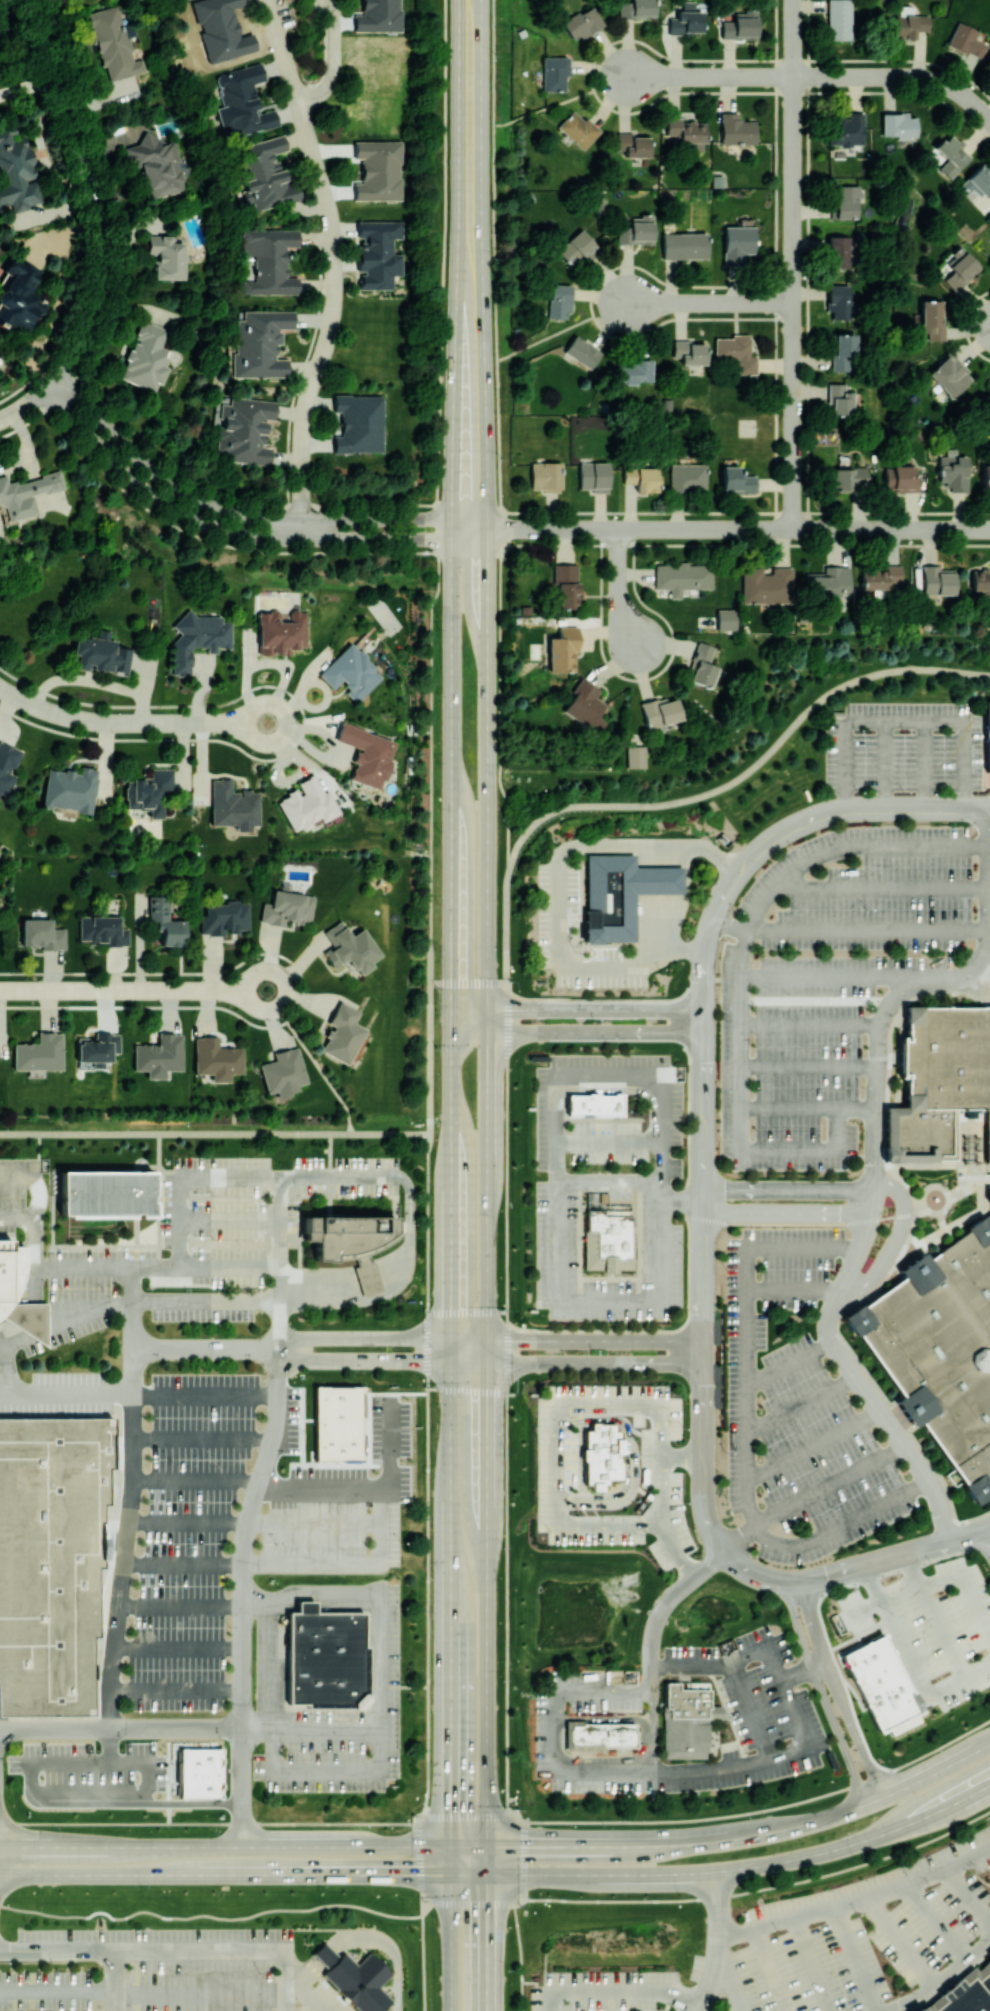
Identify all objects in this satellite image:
building: (687, 5)
building: (636, 9)
building: (839, 19)
building: (685, 21)
building: (582, 22)
building: (736, 24)
building: (910, 24)
building: (966, 39)
building: (113, 44)
road: (335, 61)
building: (554, 72)
road: (709, 76)
road: (898, 76)
building: (242, 101)
road: (542, 108)
building: (898, 124)
building: (577, 128)
building: (736, 129)
building: (847, 129)
building: (686, 131)
building: (633, 144)
building: (952, 154)
building: (156, 163)
building: (378, 170)
building: (16, 172)
building: (265, 175)
road: (91, 199)
building: (847, 201)
building: (634, 229)
building: (737, 243)
building: (684, 245)
building: (576, 247)
building: (838, 251)
building: (378, 252)
building: (166, 256)
road: (469, 259)
building: (270, 260)
road: (794, 264)
road: (334, 267)
building: (959, 271)
building: (17, 294)
building: (559, 300)
building: (839, 301)
road: (709, 302)
building: (932, 318)
road: (545, 337)
building: (260, 342)
building: (582, 351)
building: (690, 351)
building: (736, 351)
building: (844, 351)
building: (146, 357)
building: (635, 370)
building: (950, 374)
building: (989, 398)
building: (839, 399)
road: (23, 407)
building: (359, 423)
building: (246, 429)
road: (498, 439)
building: (953, 469)
building: (545, 475)
building: (986, 475)
building: (593, 476)
building: (687, 477)
building: (848, 477)
building: (641, 478)
building: (902, 478)
building: (736, 479)
road: (436, 491)
building: (26, 493)
road: (239, 512)
road: (732, 529)
road: (984, 529)
road: (241, 534)
road: (487, 570)
building: (682, 577)
building: (880, 577)
building: (980, 578)
building: (937, 580)
building: (829, 581)
building: (566, 585)
building: (766, 585)
road: (619, 591)
building: (725, 618)
building: (281, 631)
building: (198, 637)
building: (562, 650)
building: (99, 655)
building: (701, 666)
building: (351, 671)
building: (585, 705)
building: (660, 710)
road: (906, 721)
road: (130, 722)
building: (989, 740)
building: (367, 754)
building: (635, 756)
road: (451, 759)
road: (886, 764)
road: (926, 764)
building: (8, 765)
building: (70, 788)
building: (149, 791)
road: (696, 795)
building: (306, 803)
building: (233, 805)
road: (854, 808)
road: (882, 887)
road: (561, 890)
parking lot: (866, 890)
building: (624, 894)
road: (662, 900)
building: (288, 908)
building: (224, 917)
building: (165, 922)
road: (732, 925)
building: (103, 930)
road: (869, 931)
building: (42, 934)
building: (350, 948)
road: (706, 948)
road: (742, 969)
road: (986, 975)
road: (853, 978)
road: (468, 981)
road: (134, 990)
road: (828, 1001)
traffic signals: (450, 1008)
traffic signals: (486, 1008)
road: (577, 1008)
road: (812, 1025)
traffic signals: (450, 1031)
traffic signals: (486, 1031)
road: (577, 1031)
building: (342, 1033)
building: (97, 1047)
building: (39, 1052)
building: (159, 1055)
parking lot: (797, 1055)
road: (430, 1057)
building: (216, 1058)
road: (811, 1067)
building: (283, 1072)
building: (939, 1080)
road: (627, 1088)
building: (594, 1103)
road: (810, 1111)
road: (215, 1133)
road: (611, 1140)
road: (557, 1181)
parking lot: (608, 1183)
road: (609, 1183)
road: (450, 1184)
road: (789, 1189)
road: (945, 1192)
building: (989, 1195)
building: (108, 1196)
road: (683, 1201)
road: (406, 1204)
road: (786, 1212)
road: (228, 1220)
road: (798, 1223)
road: (863, 1228)
building: (608, 1233)
road: (895, 1237)
building: (353, 1245)
road: (487, 1253)
road: (154, 1265)
road: (30, 1274)
building: (10, 1277)
road: (793, 1288)
road: (466, 1311)
road: (65, 1323)
road: (704, 1327)
road: (364, 1338)
traffic signals: (451, 1339)
traffic signals: (487, 1339)
road: (577, 1339)
road: (207, 1346)
building: (939, 1348)
road: (363, 1361)
traffic signals: (451, 1362)
traffic signals: (487, 1362)
road: (788, 1362)
road: (577, 1363)
road: (467, 1387)
road: (140, 1395)
road: (506, 1399)
road: (800, 1404)
road: (586, 1408)
parking lot: (796, 1410)
road: (745, 1426)
building: (343, 1427)
road: (203, 1436)
road: (393, 1445)
road: (811, 1445)
building: (602, 1453)
road: (684, 1456)
road: (630, 1459)
road: (427, 1478)
road: (264, 1486)
road: (665, 1489)
road: (250, 1510)
road: (131, 1514)
road: (599, 1524)
road: (986, 1537)
road: (681, 1550)
road: (897, 1554)
building: (51, 1559)
road: (184, 1565)
road: (707, 1565)
road: (794, 1579)
road: (965, 1590)
road: (325, 1602)
road: (451, 1603)
road: (282, 1604)
road: (306, 1607)
road: (179, 1649)
building: (327, 1657)
road: (731, 1666)
road: (805, 1672)
road: (978, 1672)
building: (885, 1685)
road: (947, 1688)
road: (838, 1689)
road: (177, 1690)
road: (821, 1693)
road: (593, 1696)
road: (753, 1714)
building: (688, 1717)
road: (380, 1721)
road: (557, 1734)
building: (602, 1734)
road: (644, 1739)
road: (272, 1756)
road: (710, 1772)
building: (203, 1774)
road: (930, 1774)
road: (74, 1801)
road: (197, 1803)
road: (765, 1808)
road: (508, 1817)
road: (208, 1823)
road: (662, 1844)
traffic signals: (451, 1845)
traffic signals: (488, 1845)
road: (225, 1846)
road: (451, 1858)
road: (419, 1862)
road: (727, 1868)
traffic signals: (451, 1872)
traffic signals: (488, 1872)
road: (225, 1873)
road: (966, 1898)
road: (858, 1899)
road: (492, 1902)
road: (943, 1921)
road: (369, 1935)
road: (451, 1941)
road: (487, 1941)
road: (899, 1942)
road: (719, 1943)
road: (172, 1951)
building: (326, 1954)
road: (519, 1956)
road: (855, 1958)
road: (422, 1962)
road: (811, 1963)
road: (770, 1969)
road: (731, 1974)
road: (943, 1979)
road: (114, 1981)
building: (360, 1981)
road: (292, 1988)
road: (617, 1991)
building: (965, 1991)
road: (142, 1993)
road: (311, 1996)

